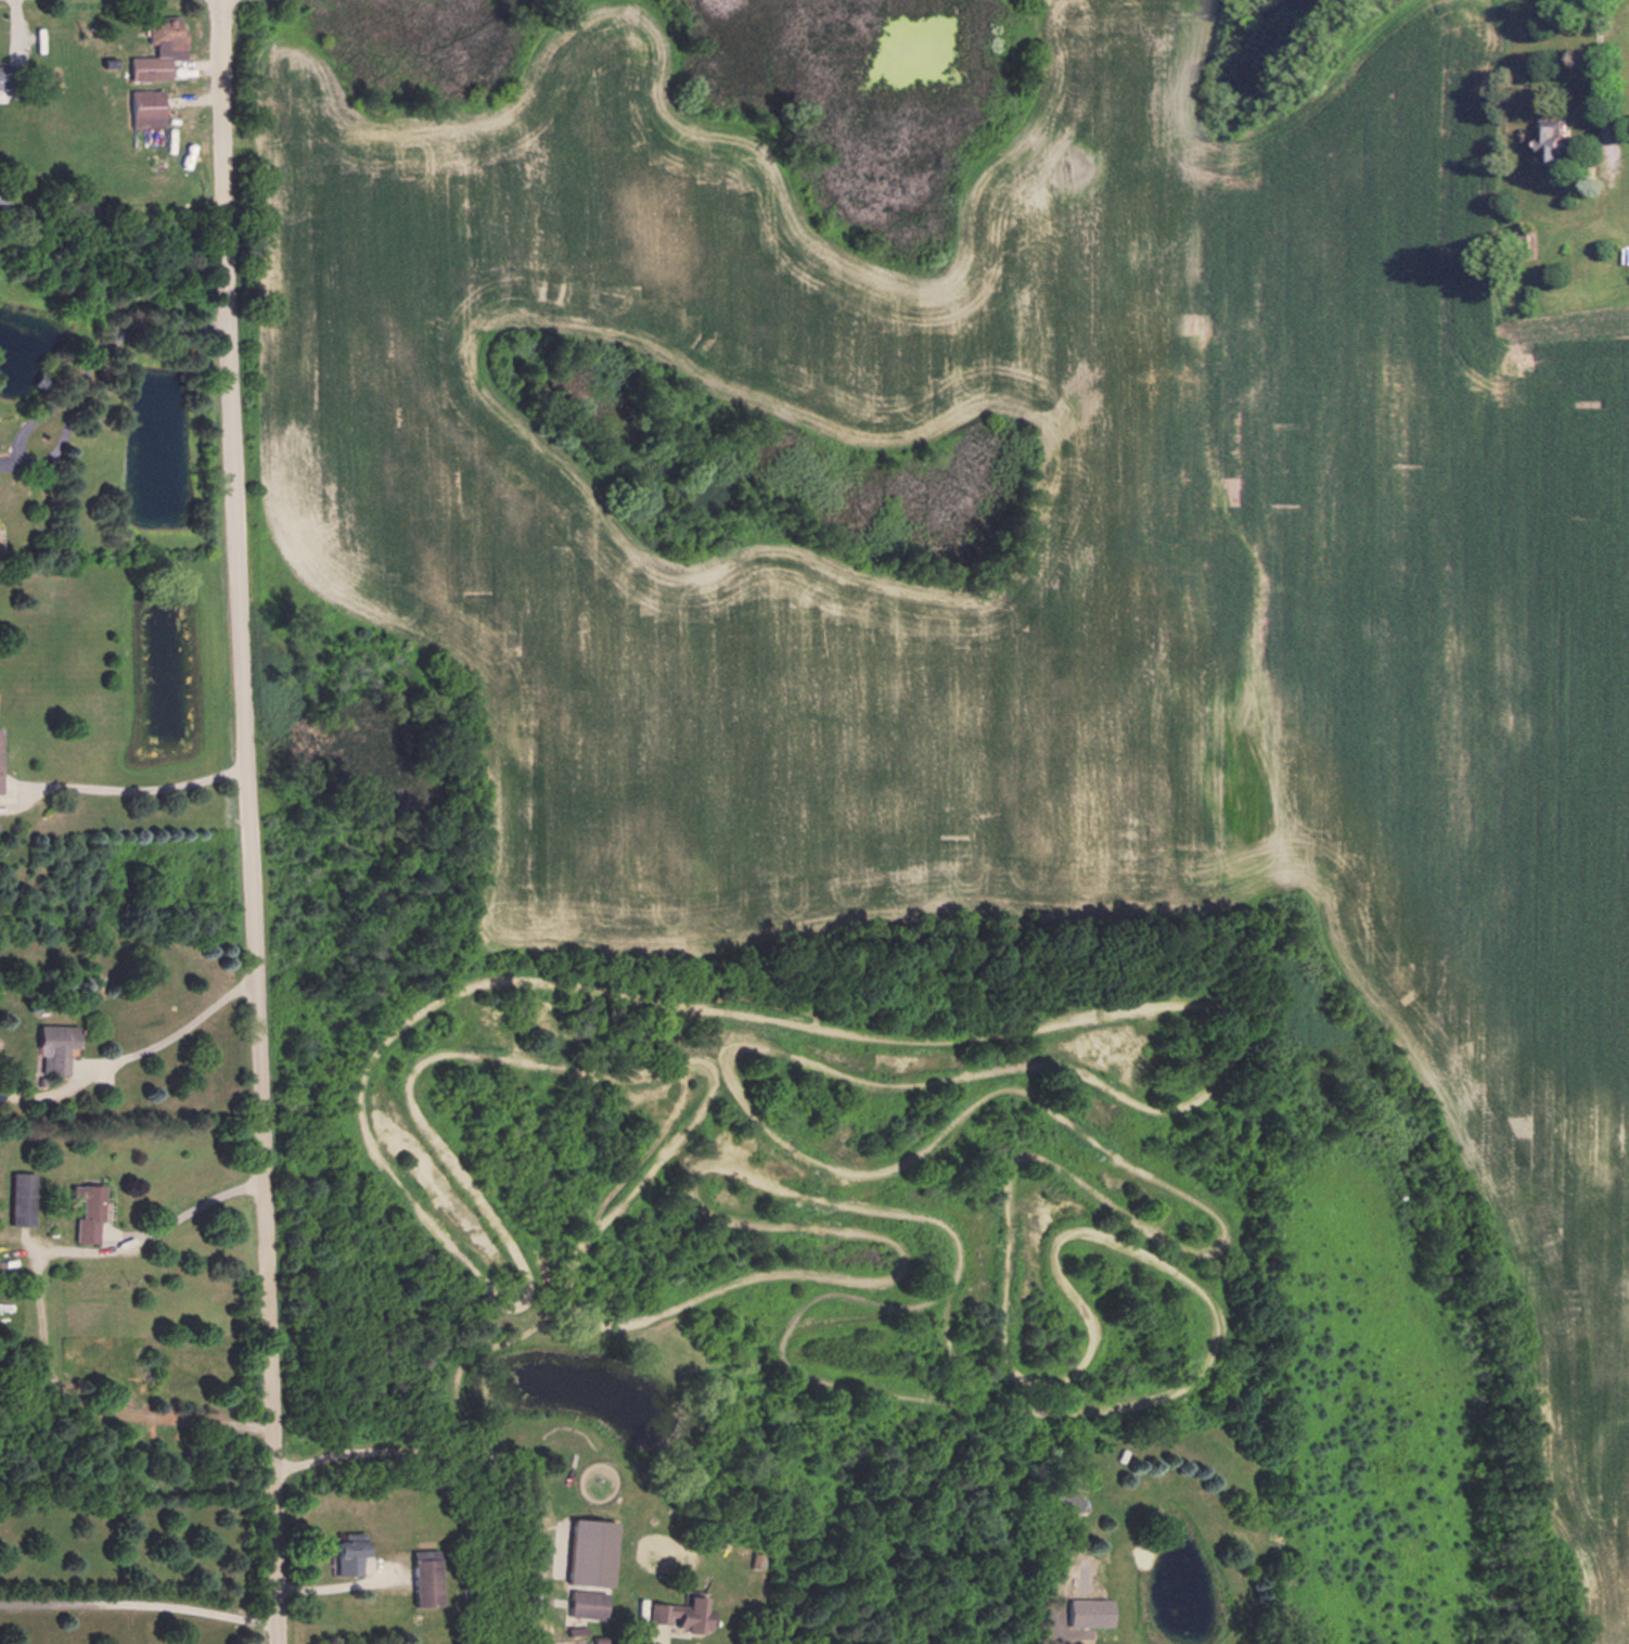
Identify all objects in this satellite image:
road: (16, 30)
building: (164, 33)
building: (107, 63)
road: (196, 67)
building: (147, 68)
building: (11, 77)
road: (1599, 77)
road: (193, 100)
building: (144, 109)
building: (1552, 141)
building: (4, 193)
road: (138, 789)
road: (253, 821)
road: (161, 1042)
building: (54, 1046)
building: (86, 1211)
road: (38, 1314)
building: (1063, 1499)
building: (346, 1556)
building: (423, 1582)
road: (143, 1604)
building: (585, 1604)
building: (1090, 1611)
building: (679, 1615)

